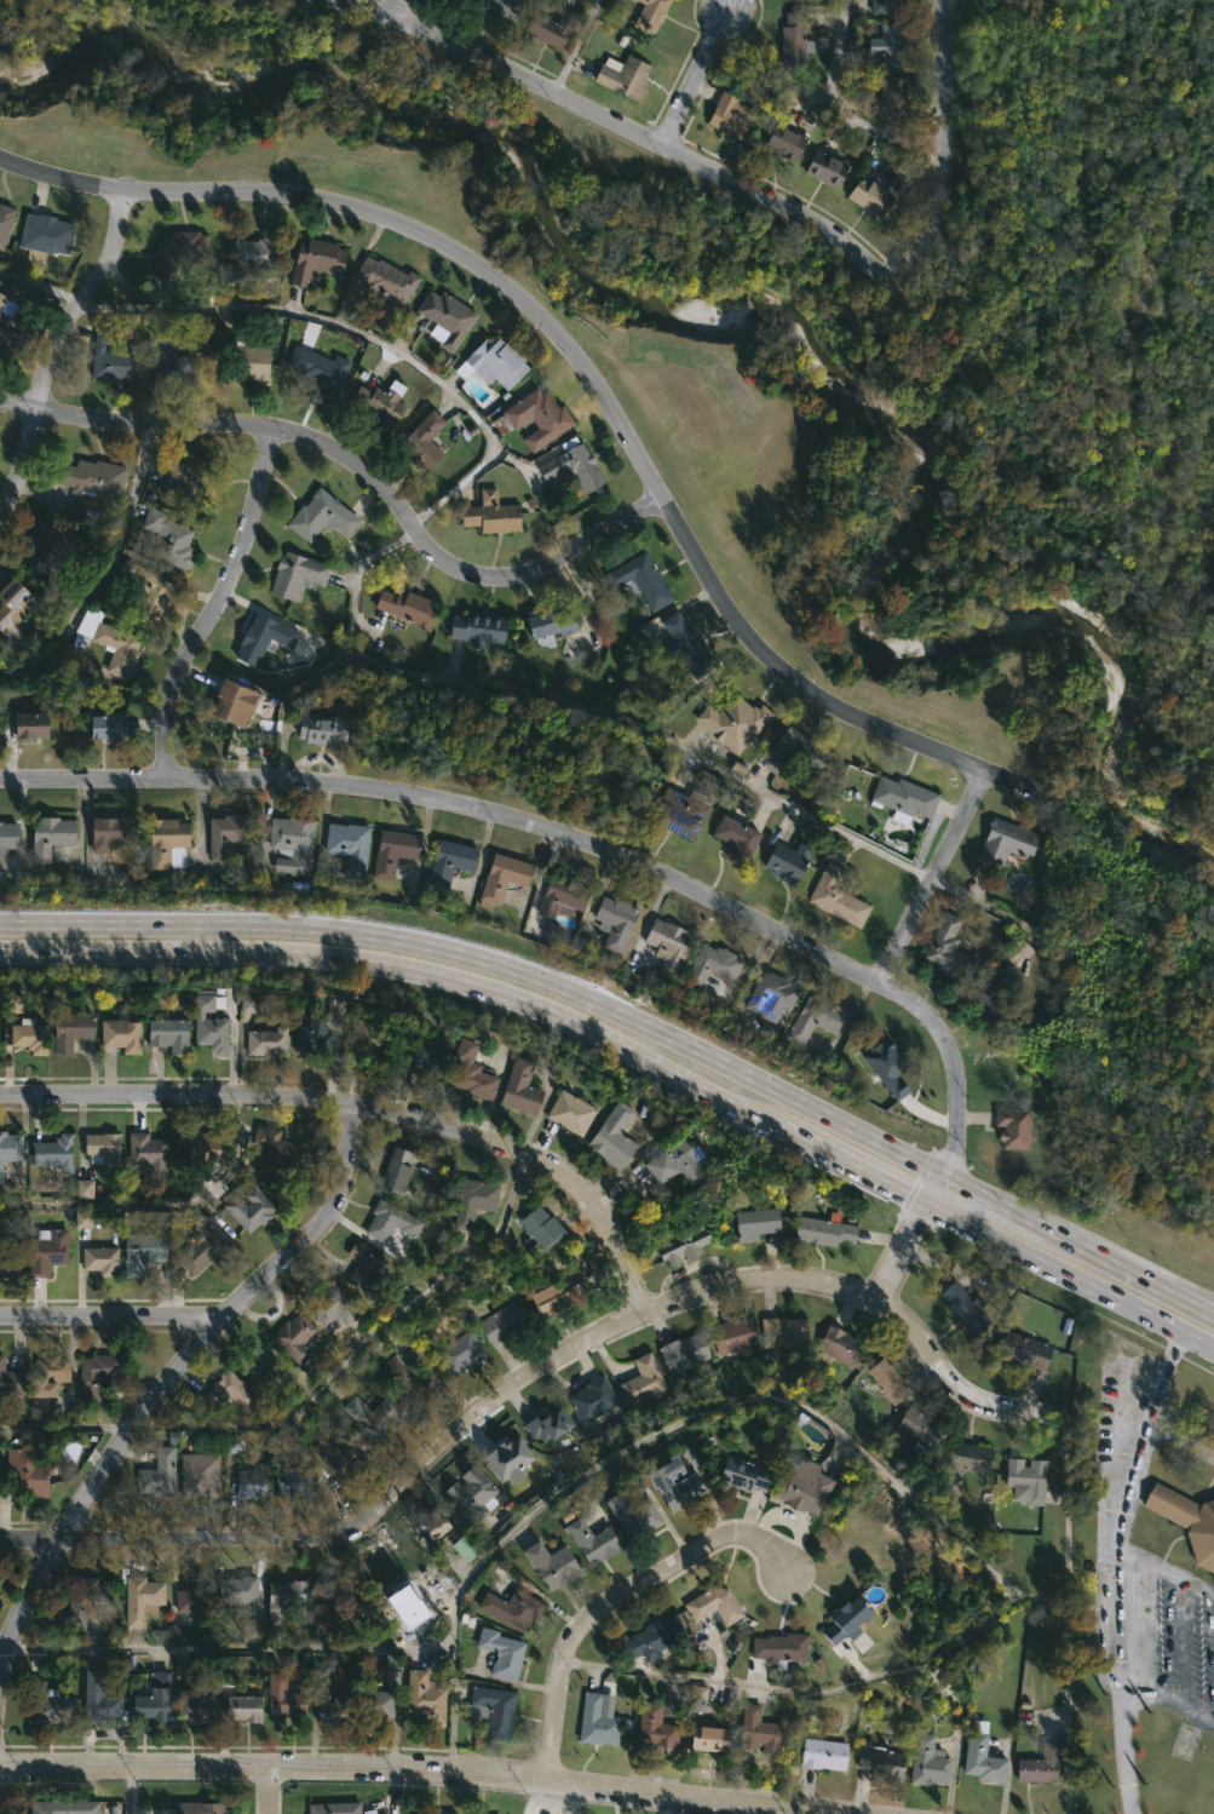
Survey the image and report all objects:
building: (786, 0)
building: (885, 6)
building: (500, 7)
road: (364, 10)
road: (397, 10)
building: (649, 11)
building: (548, 27)
building: (792, 40)
road: (569, 46)
building: (887, 47)
building: (621, 78)
road: (697, 79)
building: (882, 97)
road: (836, 109)
building: (727, 116)
road: (610, 122)
building: (783, 142)
building: (823, 168)
road: (938, 188)
building: (869, 196)
building: (6, 224)
building: (50, 235)
building: (176, 251)
building: (252, 258)
building: (312, 259)
building: (385, 280)
road: (41, 285)
building: (7, 306)
building: (442, 318)
road: (367, 337)
building: (8, 338)
building: (161, 343)
road: (564, 345)
road: (52, 354)
building: (111, 357)
building: (241, 360)
building: (490, 362)
building: (317, 371)
building: (378, 402)
building: (535, 418)
building: (501, 424)
building: (420, 440)
park: (845, 443)
road: (357, 464)
building: (570, 467)
building: (91, 478)
building: (188, 480)
building: (490, 513)
building: (317, 516)
building: (163, 539)
building: (48, 547)
road: (104, 569)
building: (293, 575)
building: (638, 581)
building: (143, 590)
building: (16, 603)
road: (215, 603)
building: (404, 608)
building: (547, 625)
building: (473, 627)
building: (260, 639)
building: (104, 643)
building: (685, 645)
building: (229, 702)
building: (731, 722)
building: (24, 725)
building: (102, 728)
building: (316, 729)
building: (793, 752)
road: (1003, 776)
building: (902, 798)
road: (458, 804)
building: (677, 813)
building: (109, 832)
building: (224, 834)
building: (50, 837)
building: (7, 838)
building: (732, 839)
building: (289, 843)
building: (1005, 843)
building: (163, 844)
building: (345, 849)
building: (830, 851)
building: (389, 853)
building: (782, 862)
building: (445, 863)
road: (932, 874)
building: (499, 878)
building: (558, 897)
building: (835, 897)
building: (612, 922)
road: (202, 934)
building: (664, 946)
building: (943, 948)
road: (495, 957)
road: (409, 964)
building: (710, 966)
building: (990, 994)
building: (767, 997)
building: (248, 1004)
building: (811, 1020)
building: (205, 1024)
building: (69, 1028)
building: (27, 1034)
building: (165, 1034)
building: (117, 1035)
building: (359, 1035)
building: (311, 1037)
building: (264, 1040)
building: (415, 1060)
road: (955, 1063)
building: (887, 1068)
building: (470, 1070)
building: (517, 1086)
road: (368, 1109)
building: (566, 1113)
building: (1012, 1127)
building: (608, 1138)
building: (100, 1146)
building: (196, 1146)
building: (11, 1149)
building: (58, 1152)
building: (274, 1153)
building: (142, 1156)
road: (857, 1163)
building: (671, 1164)
building: (395, 1169)
building: (84, 1188)
road: (936, 1189)
building: (467, 1200)
road: (995, 1201)
building: (246, 1209)
building: (81, 1218)
building: (390, 1221)
building: (752, 1223)
building: (534, 1225)
building: (822, 1230)
building: (681, 1244)
building: (201, 1245)
building: (47, 1247)
building: (143, 1250)
road: (901, 1253)
building: (11, 1256)
building: (99, 1258)
building: (361, 1269)
road: (1129, 1271)
road: (1070, 1273)
building: (554, 1295)
road: (1206, 1304)
building: (330, 1305)
building: (959, 1310)
road: (114, 1311)
building: (499, 1322)
road: (215, 1324)
building: (782, 1331)
building: (290, 1337)
building: (731, 1337)
building: (840, 1345)
building: (459, 1351)
building: (1022, 1351)
building: (681, 1353)
building: (100, 1370)
road: (945, 1370)
building: (50, 1379)
building: (11, 1380)
building: (639, 1380)
building: (885, 1380)
building: (413, 1384)
building: (229, 1393)
building: (589, 1400)
building: (373, 1413)
building: (546, 1424)
building: (916, 1428)
road: (465, 1431)
building: (340, 1453)
building: (507, 1459)
building: (966, 1459)
building: (25, 1474)
building: (157, 1474)
building: (196, 1474)
building: (740, 1474)
building: (293, 1481)
building: (1023, 1481)
building: (247, 1483)
building: (671, 1483)
building: (798, 1489)
building: (473, 1493)
building: (629, 1516)
road: (527, 1517)
building: (1186, 1522)
building: (427, 1523)
road: (29, 1540)
building: (588, 1542)
building: (465, 1548)
building: (548, 1567)
road: (1117, 1567)
road: (1164, 1572)
building: (234, 1591)
building: (332, 1596)
building: (137, 1598)
building: (84, 1600)
building: (190, 1600)
building: (280, 1600)
building: (709, 1605)
road: (25, 1606)
road: (614, 1606)
building: (510, 1611)
building: (842, 1620)
building: (249, 1634)
building: (651, 1638)
building: (777, 1648)
road: (4, 1649)
building: (497, 1653)
road: (1068, 1653)
road: (928, 1657)
building: (391, 1663)
building: (184, 1671)
building: (280, 1697)
building: (419, 1697)
building: (150, 1699)
building: (697, 1699)
building: (96, 1700)
building: (369, 1700)
road: (1168, 1700)
building: (50, 1703)
building: (191, 1703)
building: (238, 1709)
building: (329, 1709)
building: (489, 1710)
building: (593, 1721)
building: (652, 1727)
building: (758, 1729)
building: (706, 1739)
building: (822, 1755)
building: (979, 1756)
road: (1068, 1760)
building: (879, 1762)
building: (926, 1762)
building: (1037, 1766)
road: (409, 1773)
road: (131, 1790)
road: (263, 1790)
road: (395, 1793)
road: (669, 1806)
building: (65, 1807)
building: (195, 1808)
building: (330, 1808)
building: (438, 1813)

